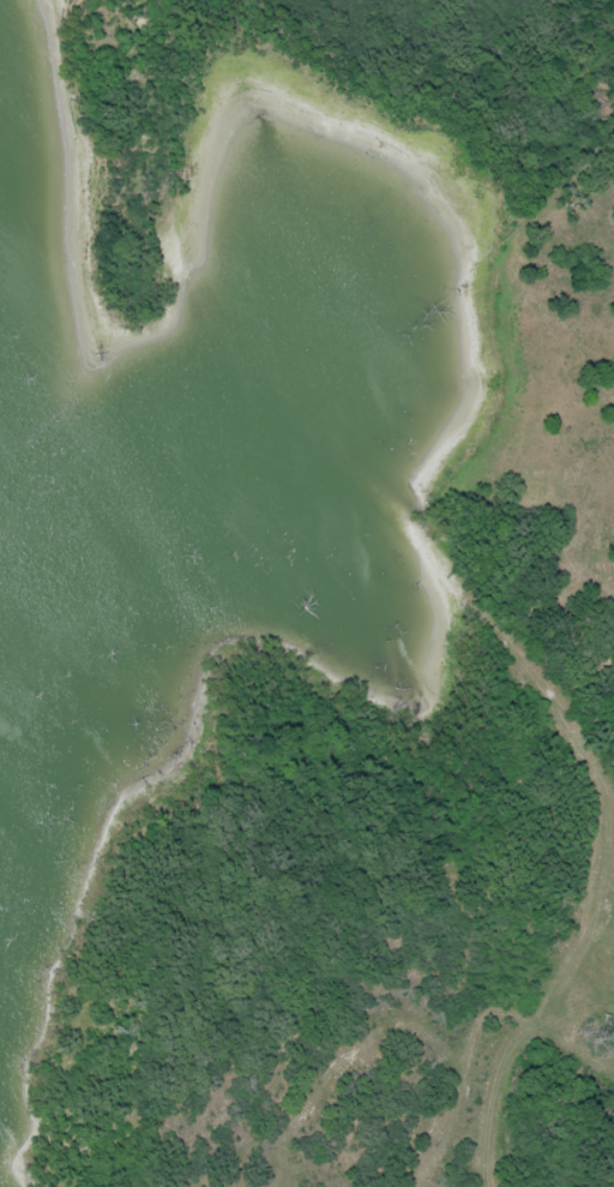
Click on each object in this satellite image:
road: (542, 952)

